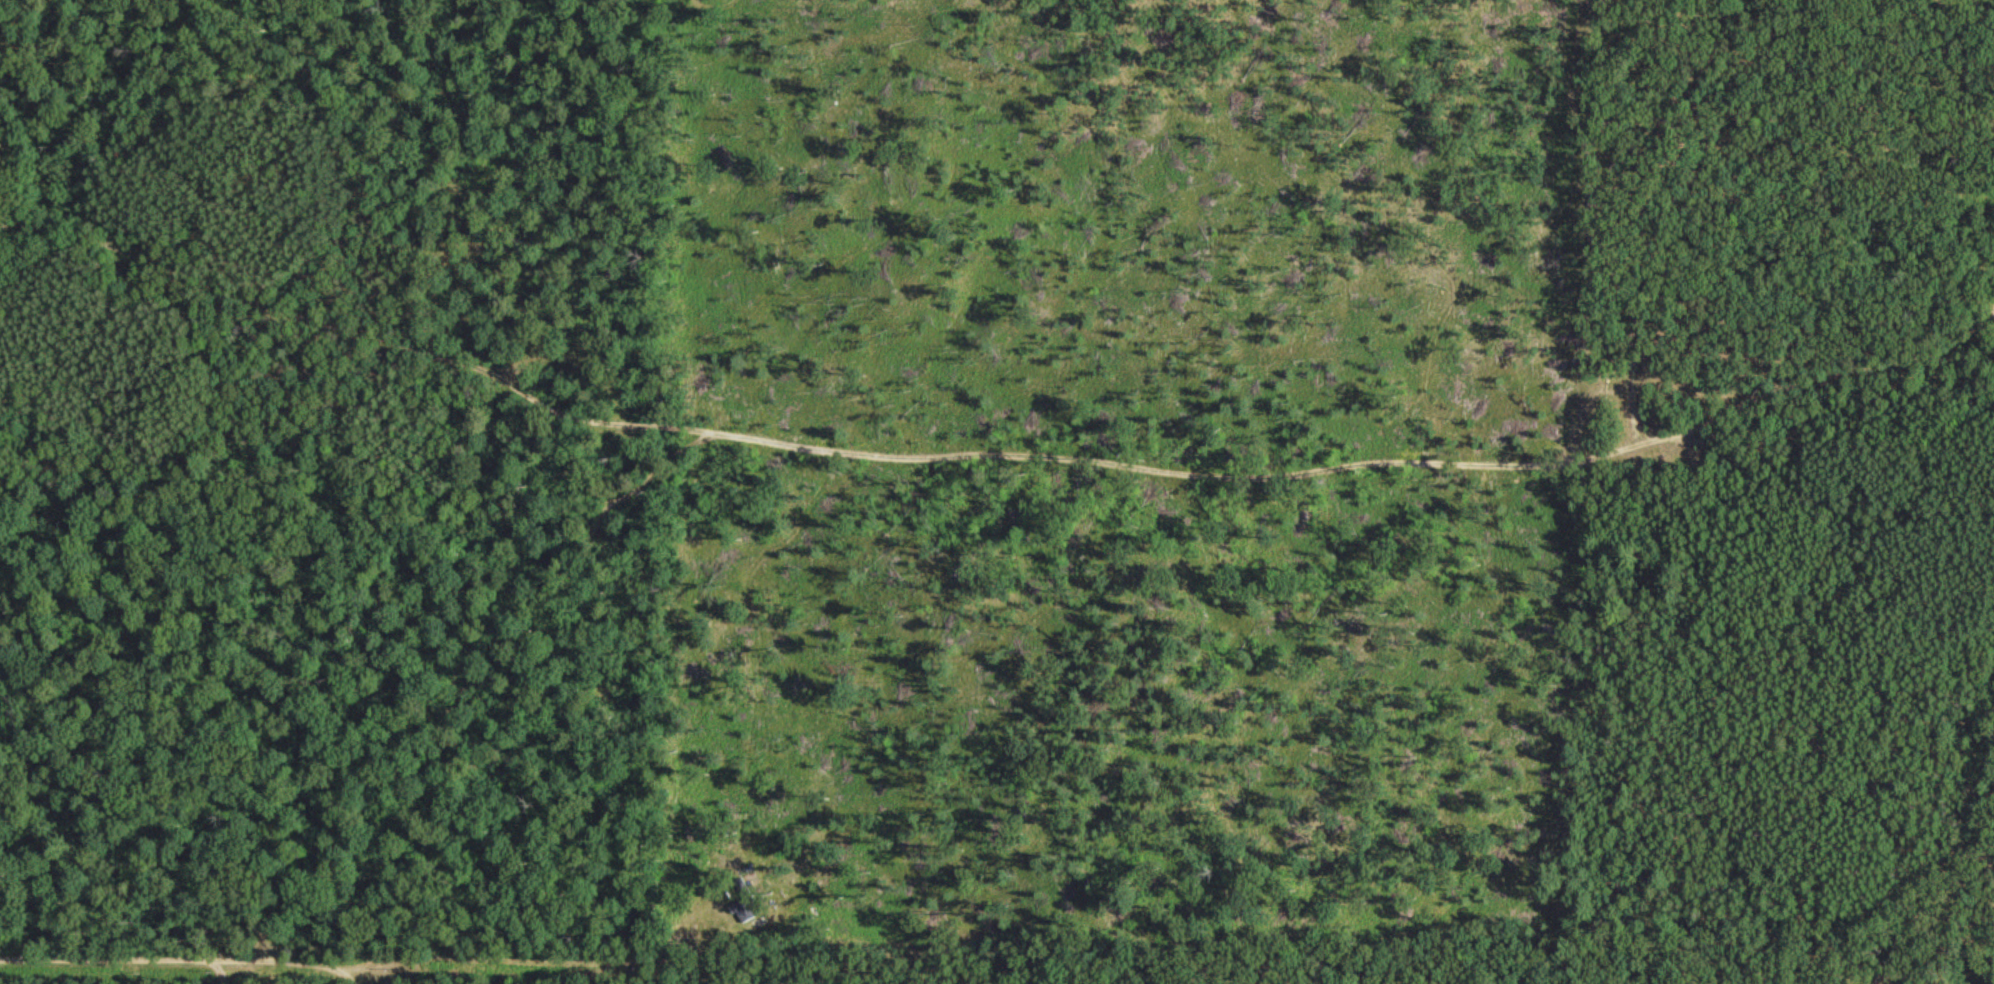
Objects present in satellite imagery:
road: (159, 955)

